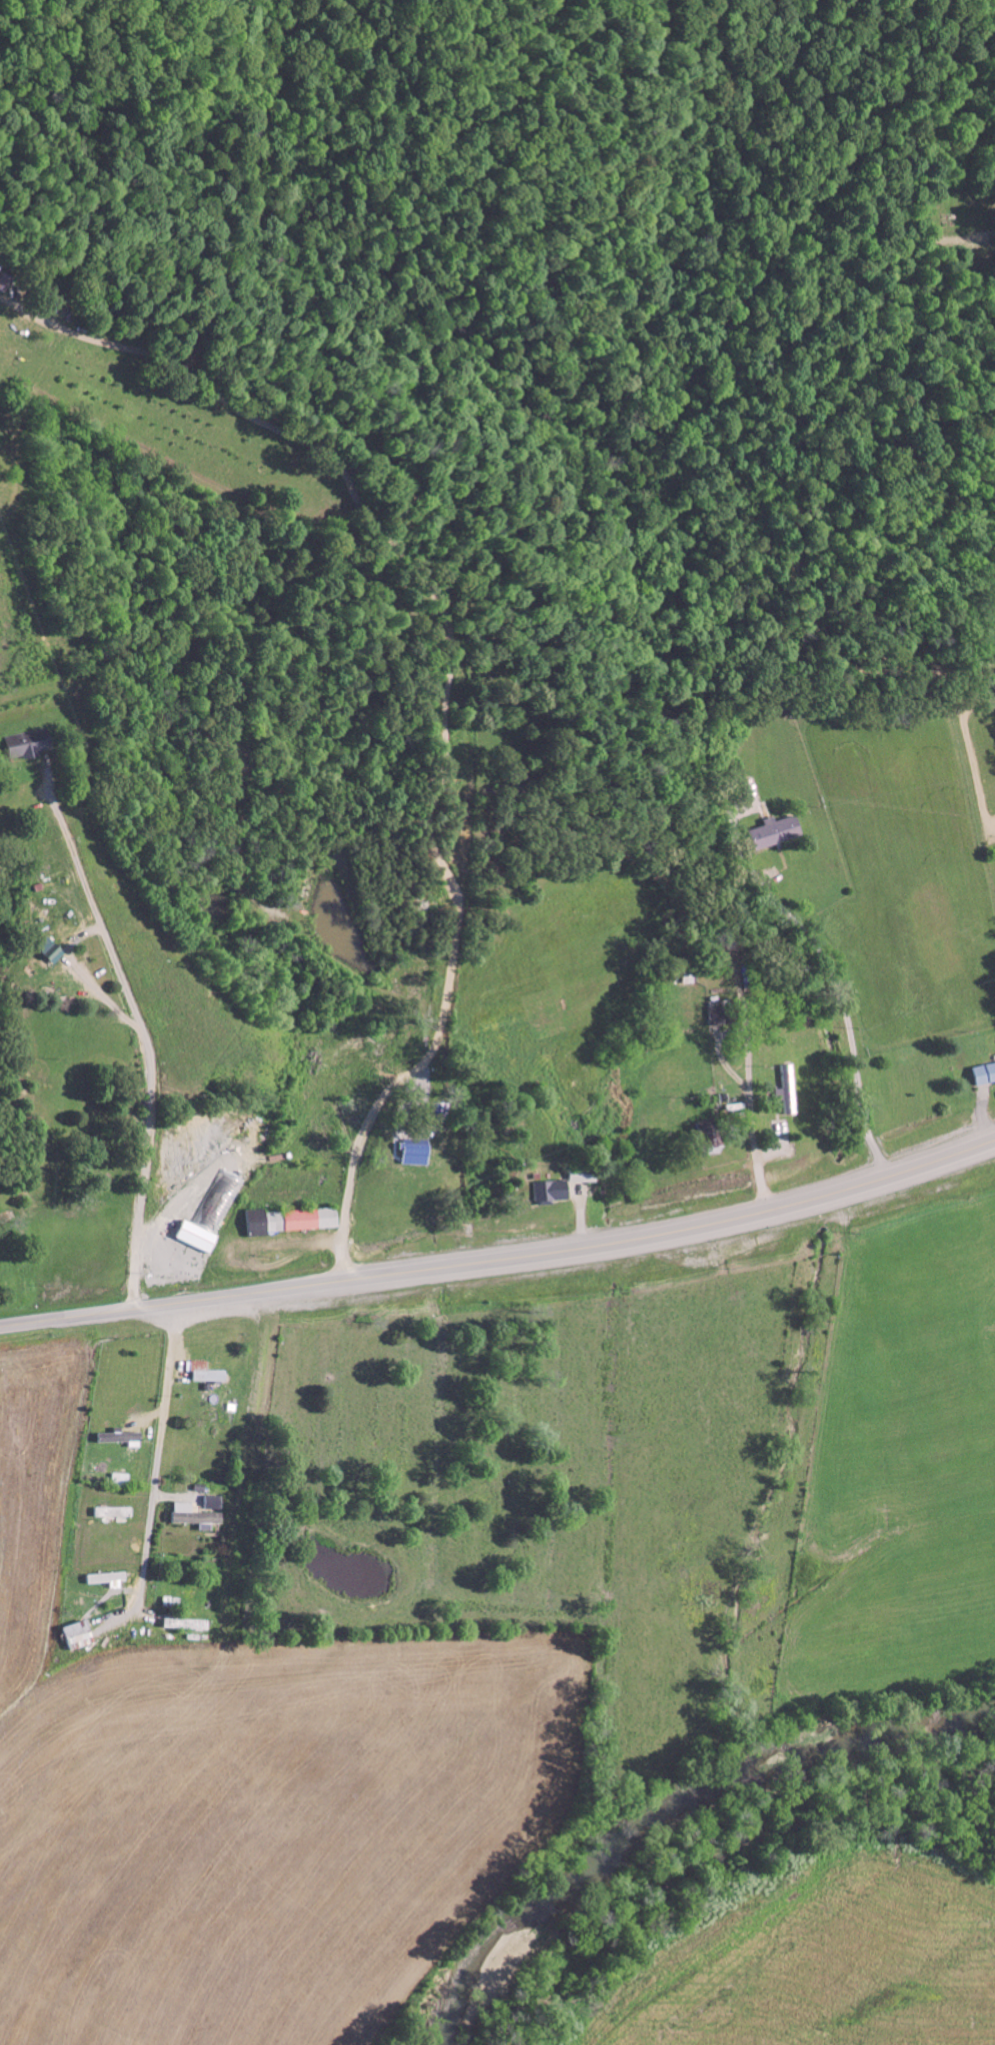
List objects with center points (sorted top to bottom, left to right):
building: (20, 746)
building: (771, 833)
building: (44, 949)
road: (182, 985)
building: (982, 1074)
building: (782, 1098)
building: (410, 1155)
building: (548, 1192)
building: (287, 1221)
building: (200, 1228)
road: (503, 1260)
building: (201, 1373)
road: (719, 1430)
building: (117, 1439)
building: (117, 1479)
building: (109, 1513)
building: (191, 1517)
building: (81, 1635)
river: (681, 1831)

